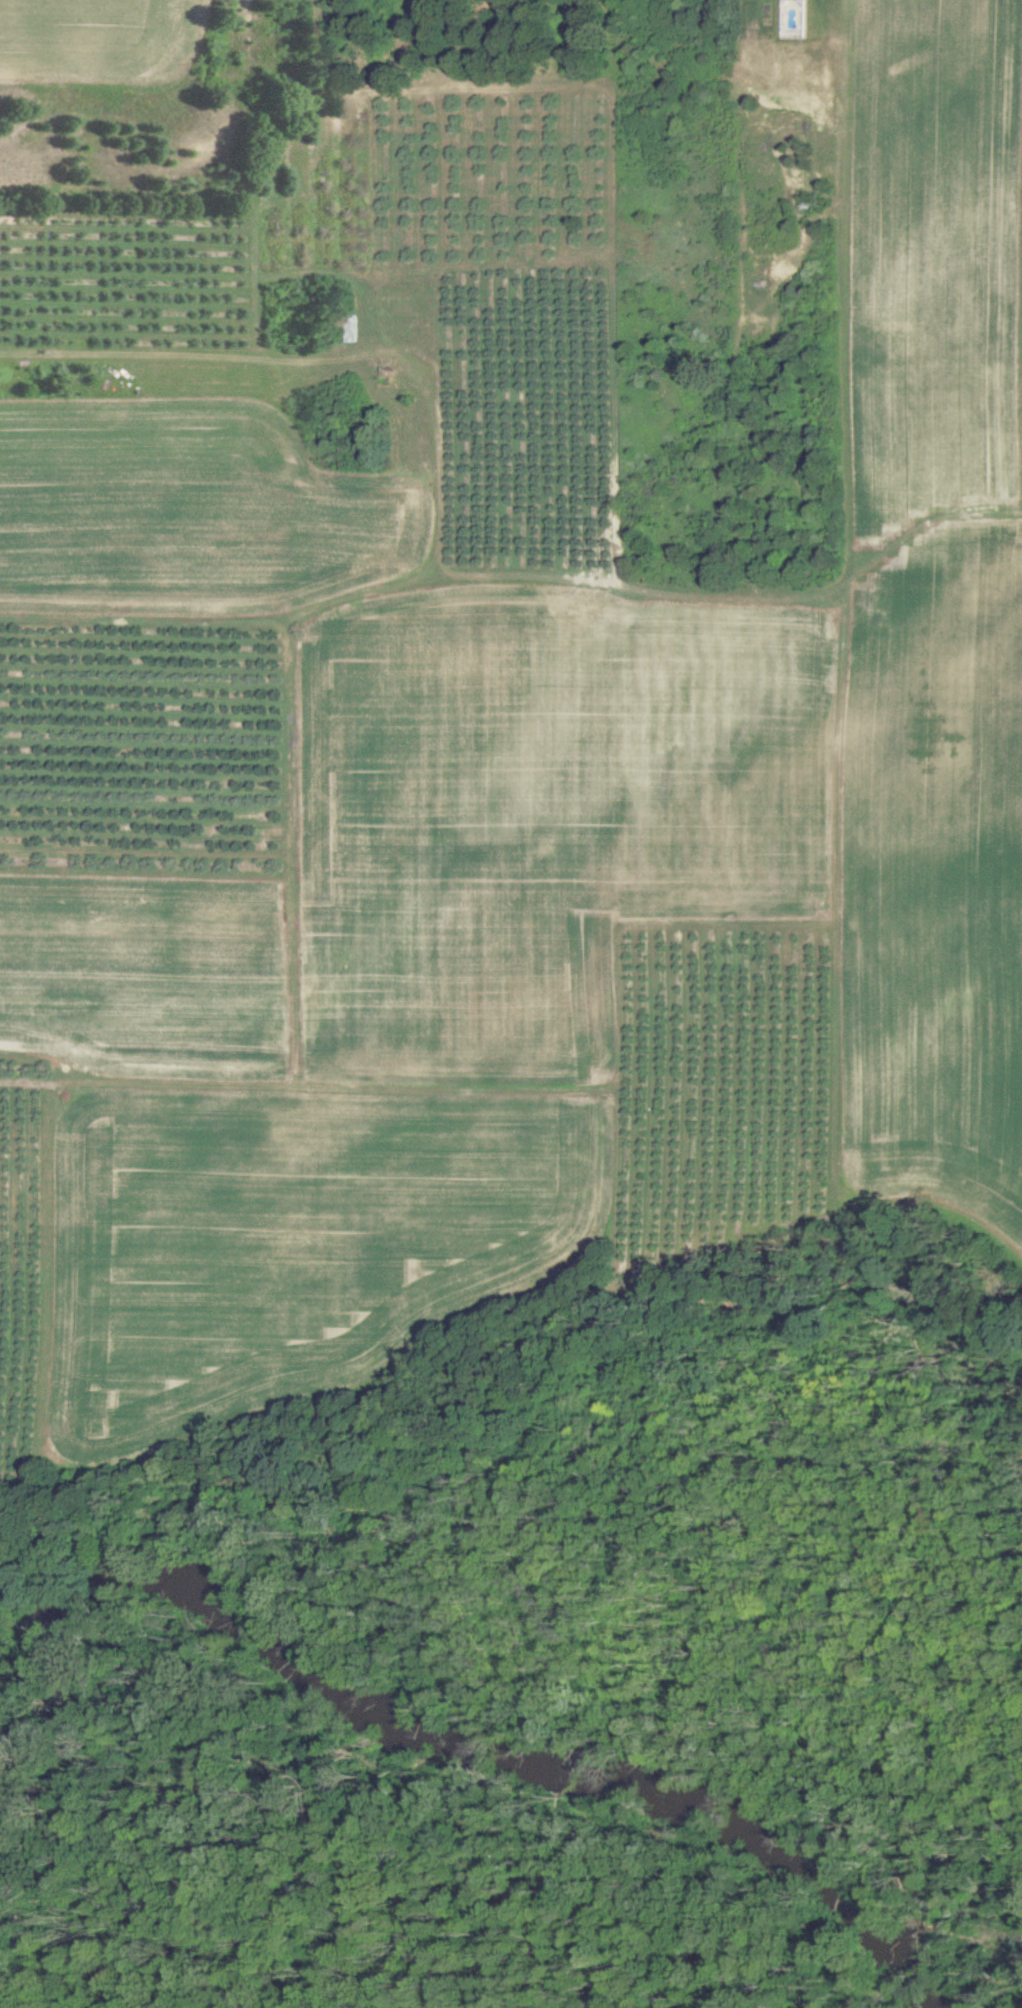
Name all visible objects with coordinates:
river: (446, 1741)

